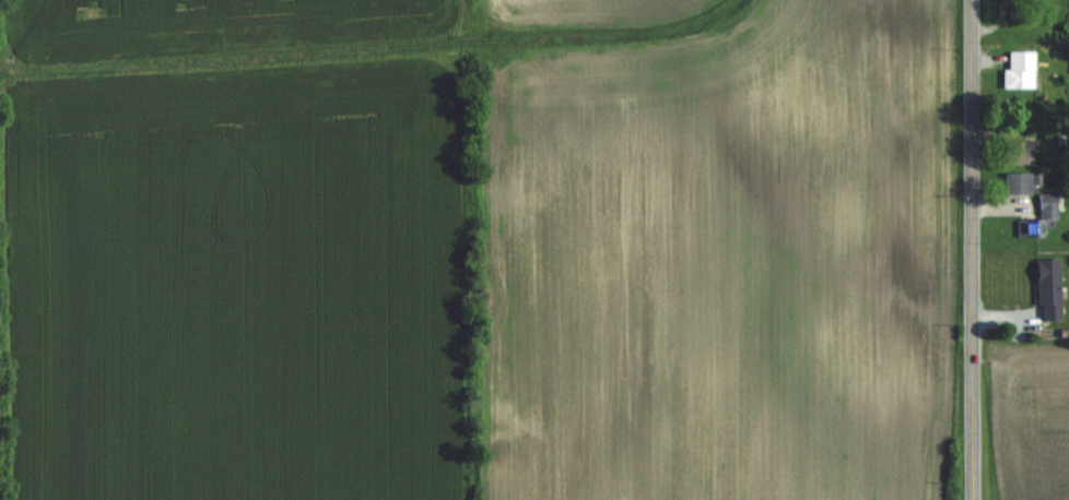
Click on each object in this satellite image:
building: (1020, 71)
building: (1020, 152)
building: (1018, 183)
building: (1048, 205)
road: (972, 249)
building: (1048, 289)

